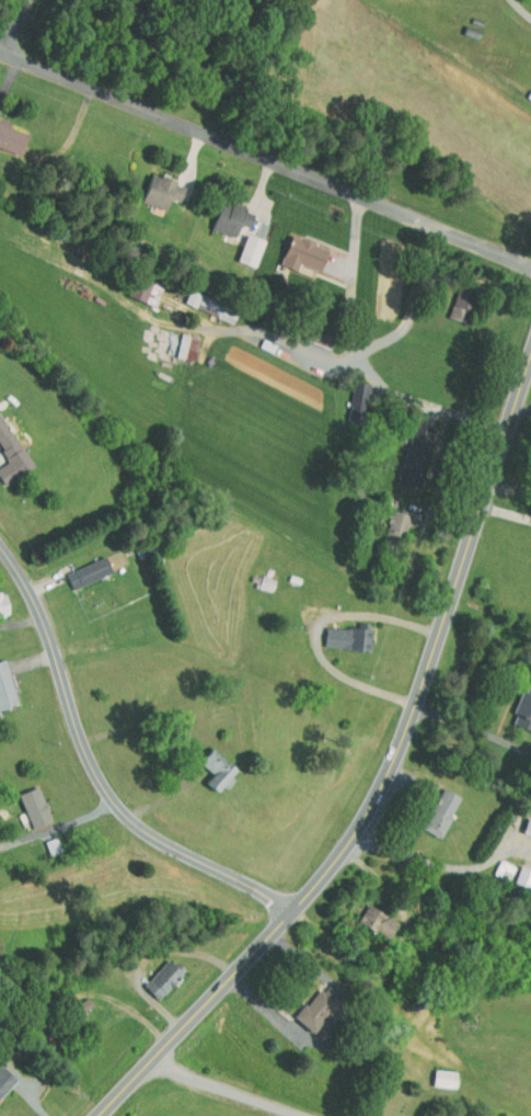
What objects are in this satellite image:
road: (523, 7)
road: (15, 24)
building: (530, 64)
building: (5, 134)
road: (265, 159)
building: (150, 185)
building: (219, 212)
building: (238, 243)
building: (290, 247)
road: (424, 278)
building: (134, 285)
building: (181, 292)
building: (448, 297)
building: (175, 340)
road: (355, 350)
building: (348, 390)
road: (427, 402)
road: (524, 407)
building: (405, 449)
building: (7, 453)
road: (511, 489)
road: (508, 513)
building: (385, 516)
building: (77, 566)
road: (22, 620)
road: (316, 628)
building: (335, 631)
building: (1, 690)
building: (518, 703)
road: (475, 728)
road: (93, 761)
building: (205, 762)
road: (369, 777)
building: (22, 799)
building: (428, 805)
building: (521, 820)
road: (60, 825)
road: (435, 863)
building: (492, 863)
building: (518, 870)
building: (366, 914)
building: (151, 970)
building: (69, 999)
building: (304, 1001)
road: (343, 1034)
building: (432, 1071)
building: (1, 1072)
road: (221, 1086)

